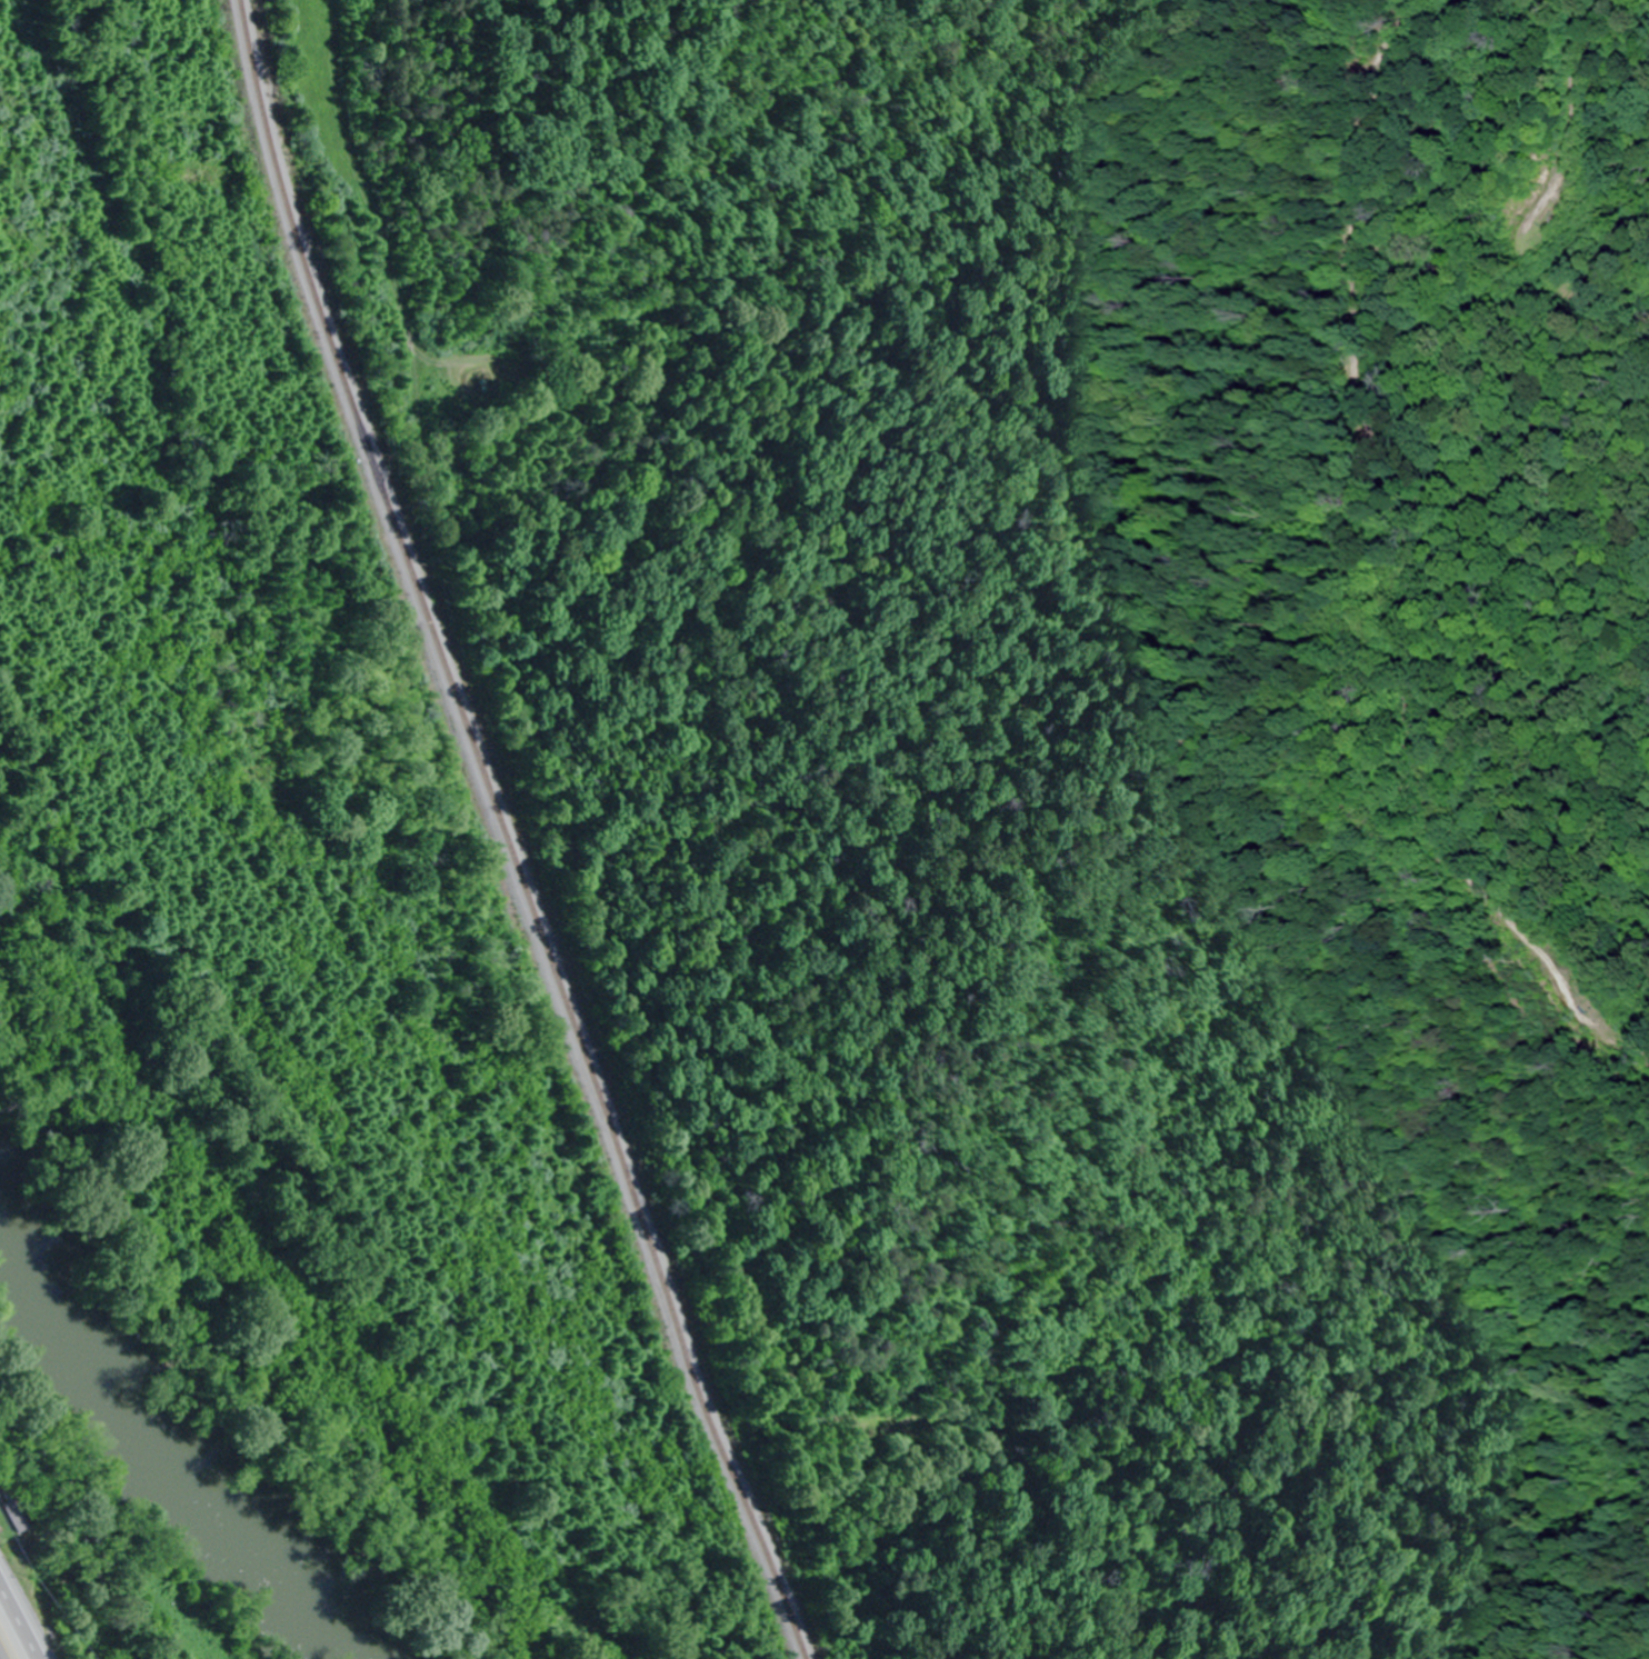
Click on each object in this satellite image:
railway: (510, 832)
river: (167, 1449)
building: (19, 1511)
road: (19, 1621)

